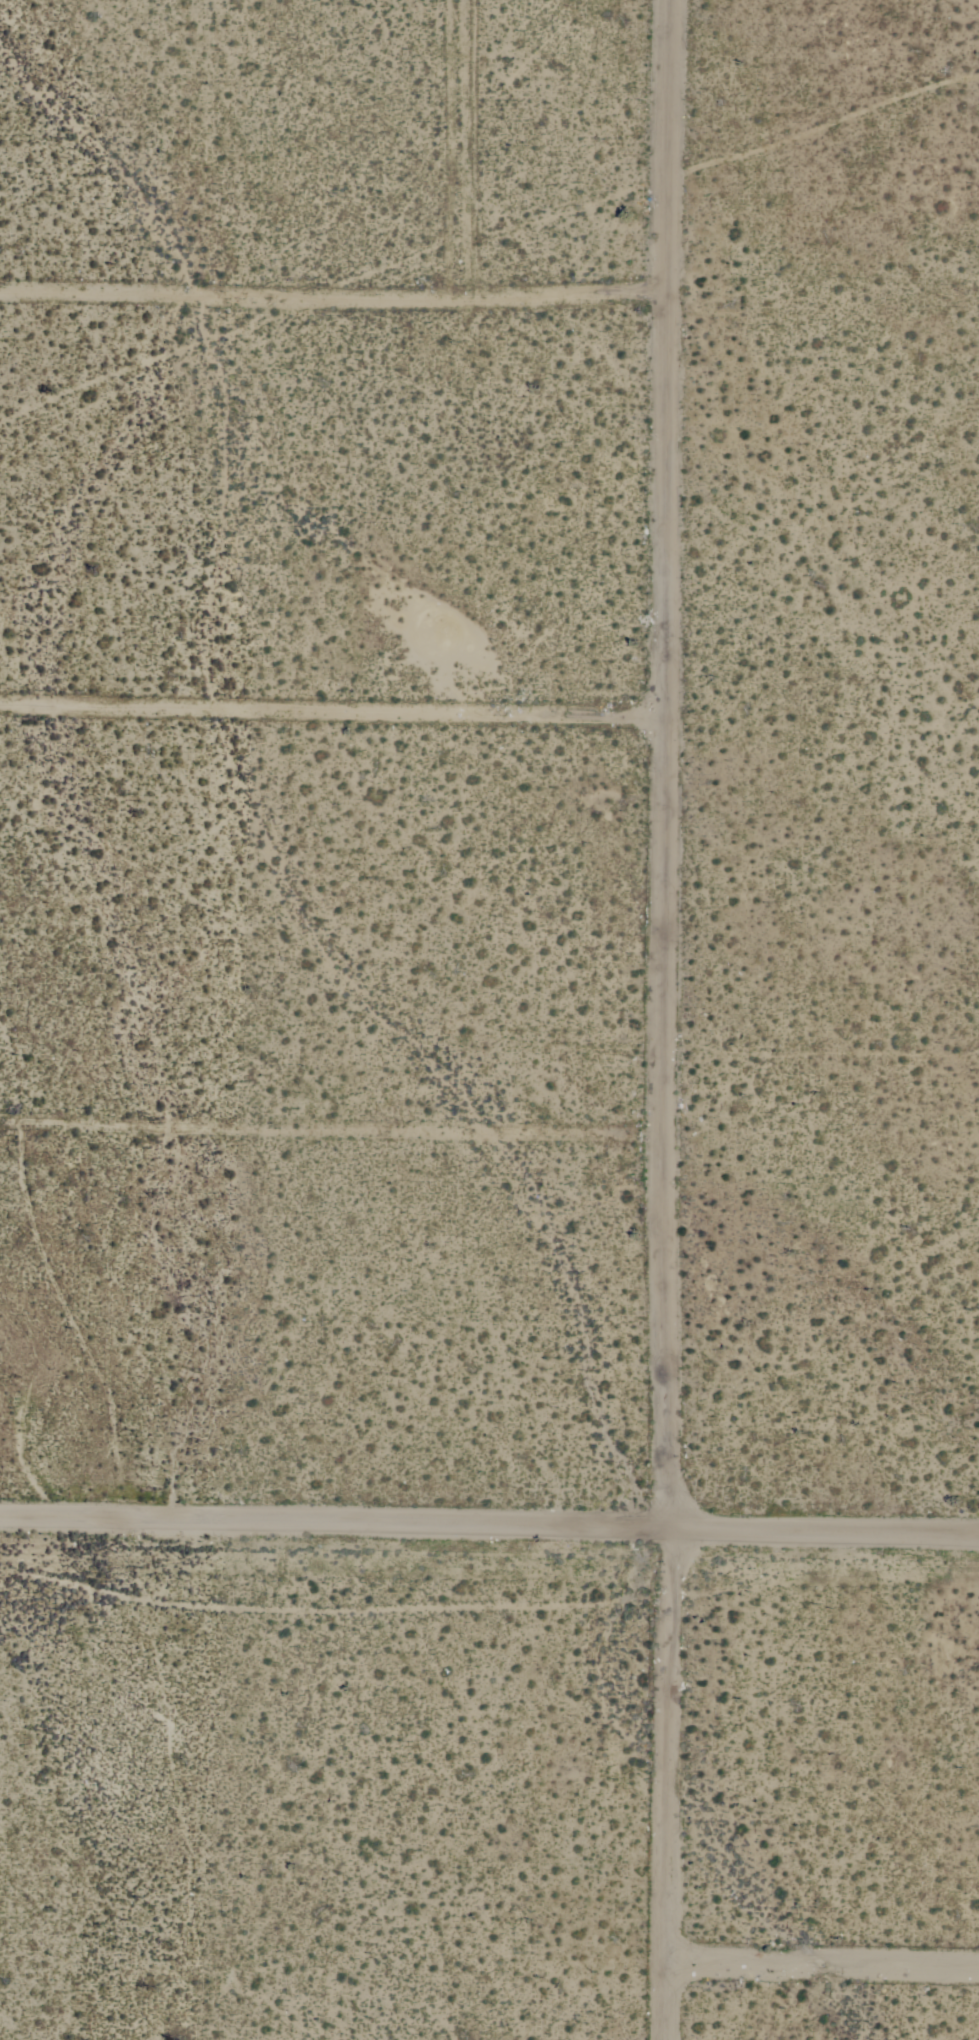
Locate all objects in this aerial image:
road: (328, 291)
road: (329, 706)
road: (662, 764)
road: (331, 1129)
road: (489, 1528)
road: (665, 1784)
road: (820, 1960)

